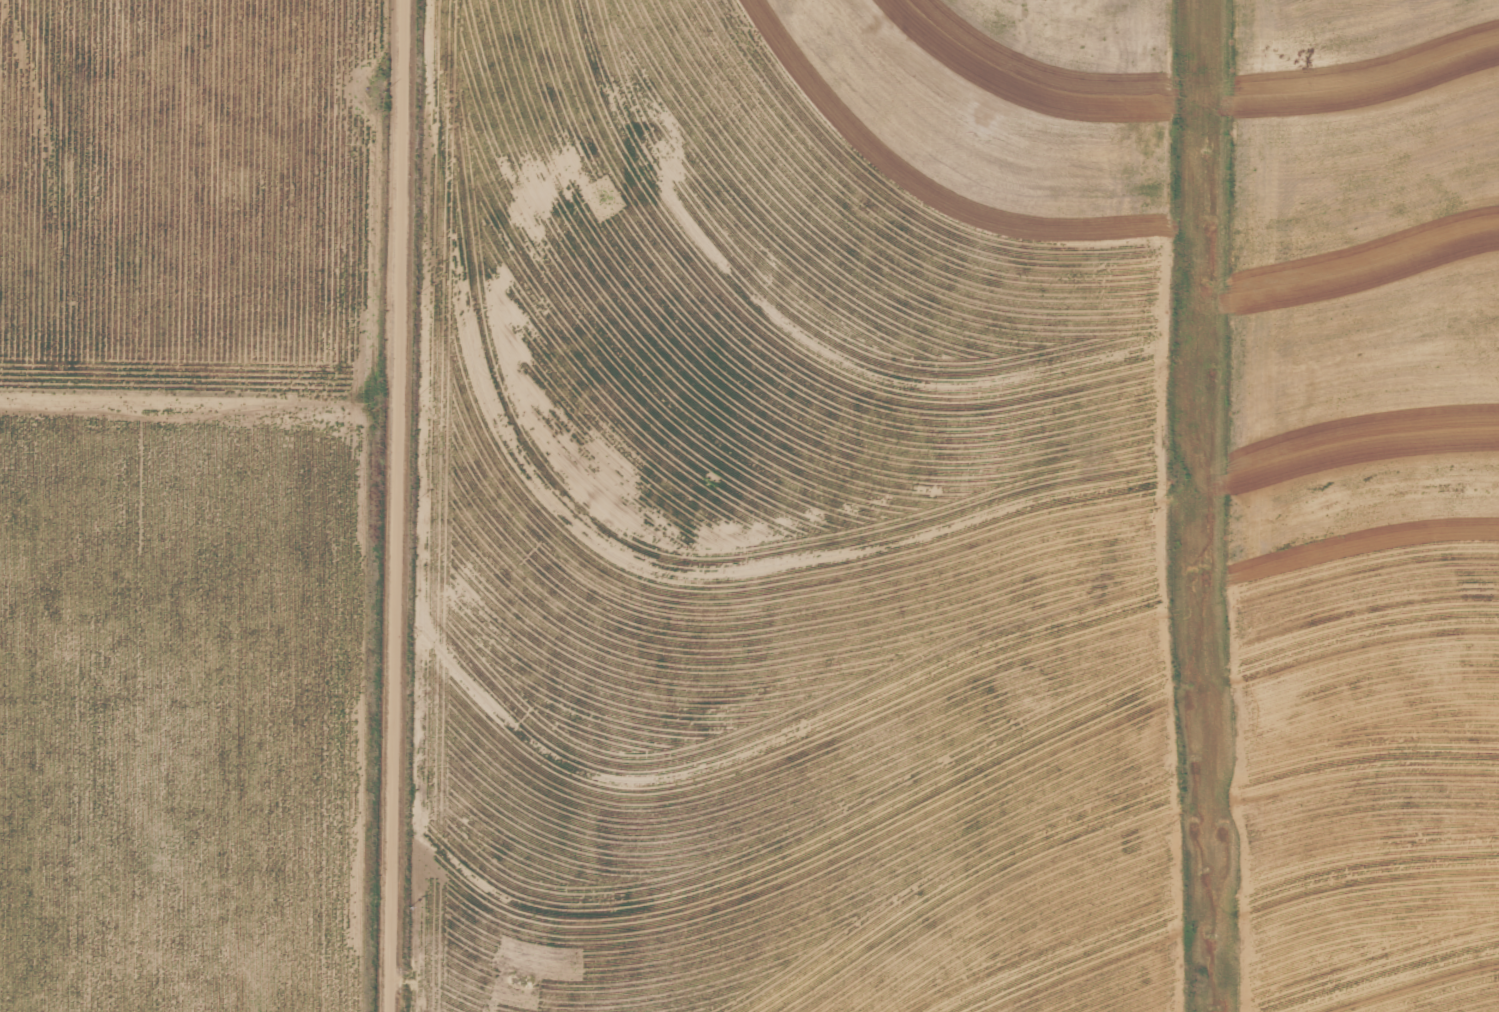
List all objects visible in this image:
road: (399, 505)

